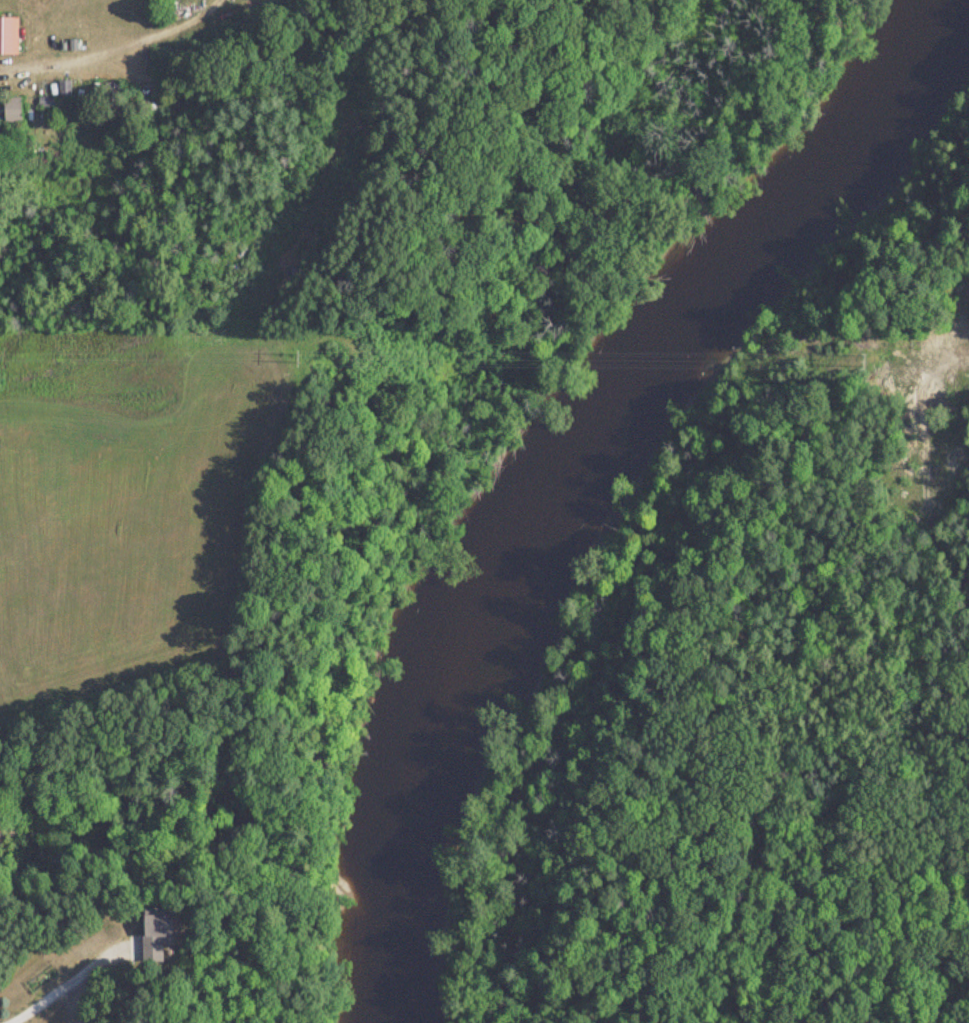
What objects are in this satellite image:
building: (7, 37)
building: (10, 111)
river: (581, 469)
building: (150, 940)
road: (55, 990)

